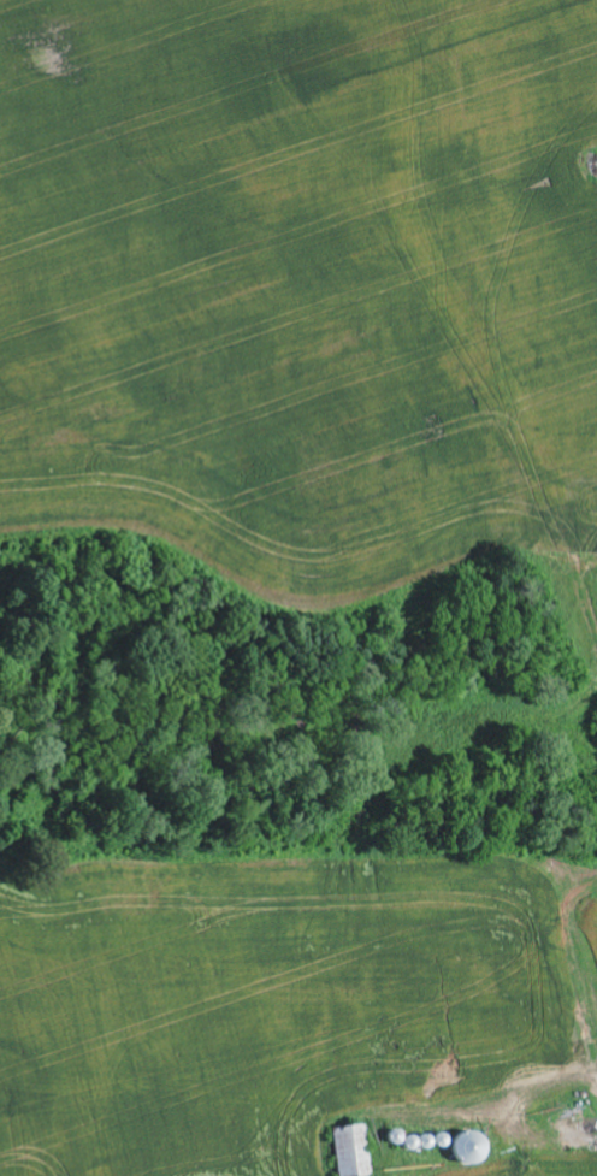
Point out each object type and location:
building: (569, 1134)
building: (348, 1151)

